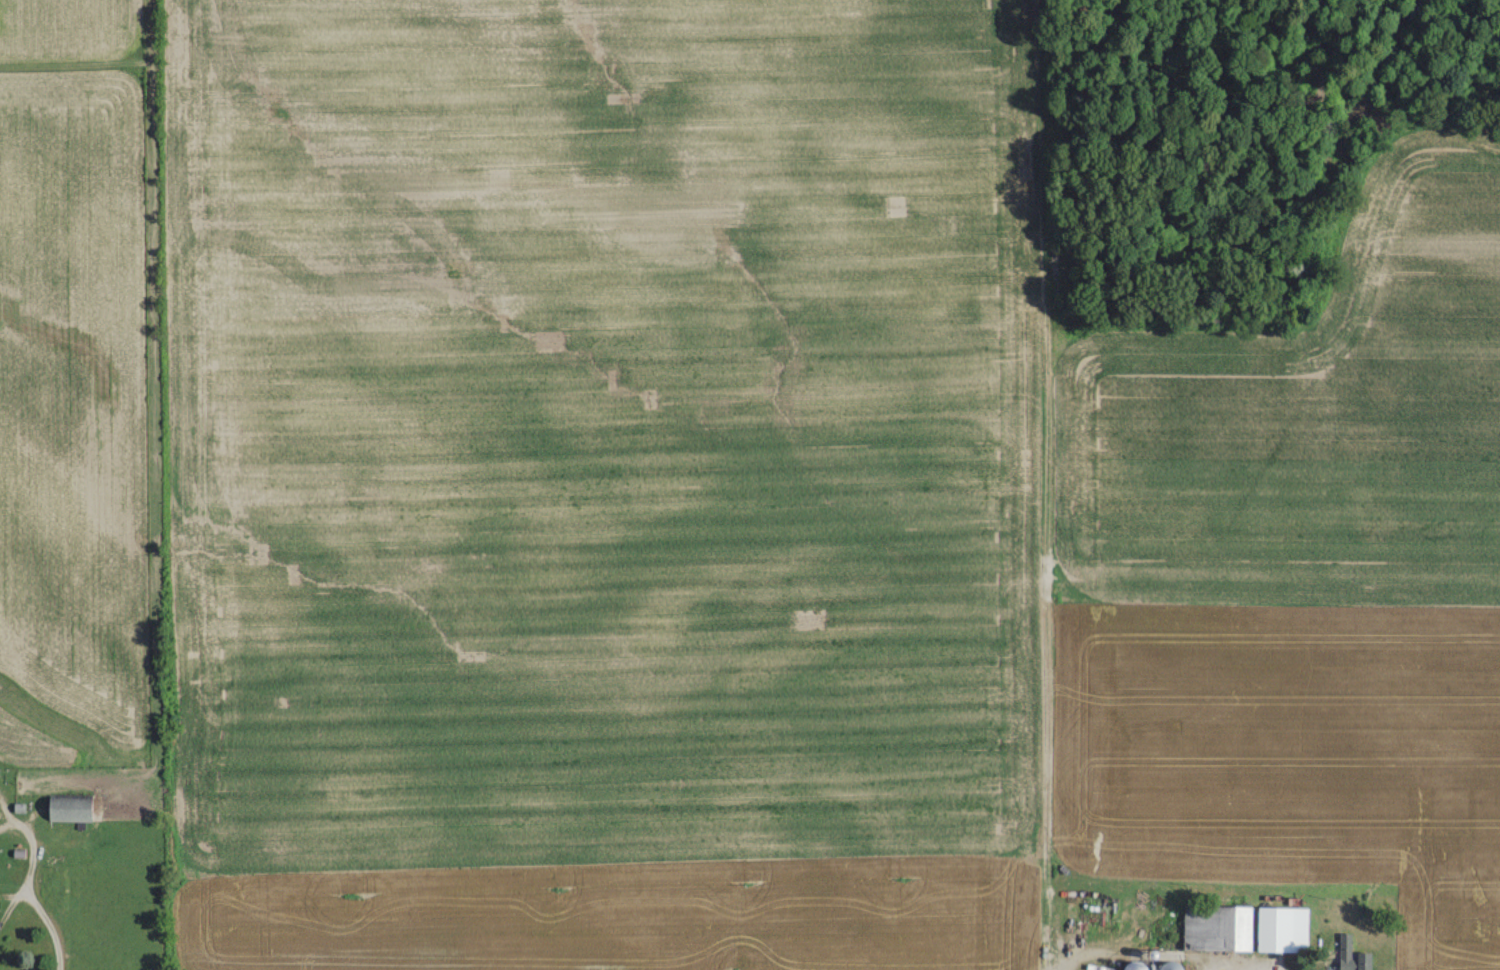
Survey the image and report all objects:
building: (68, 809)
building: (1223, 925)
building: (1351, 955)
building: (1167, 965)

